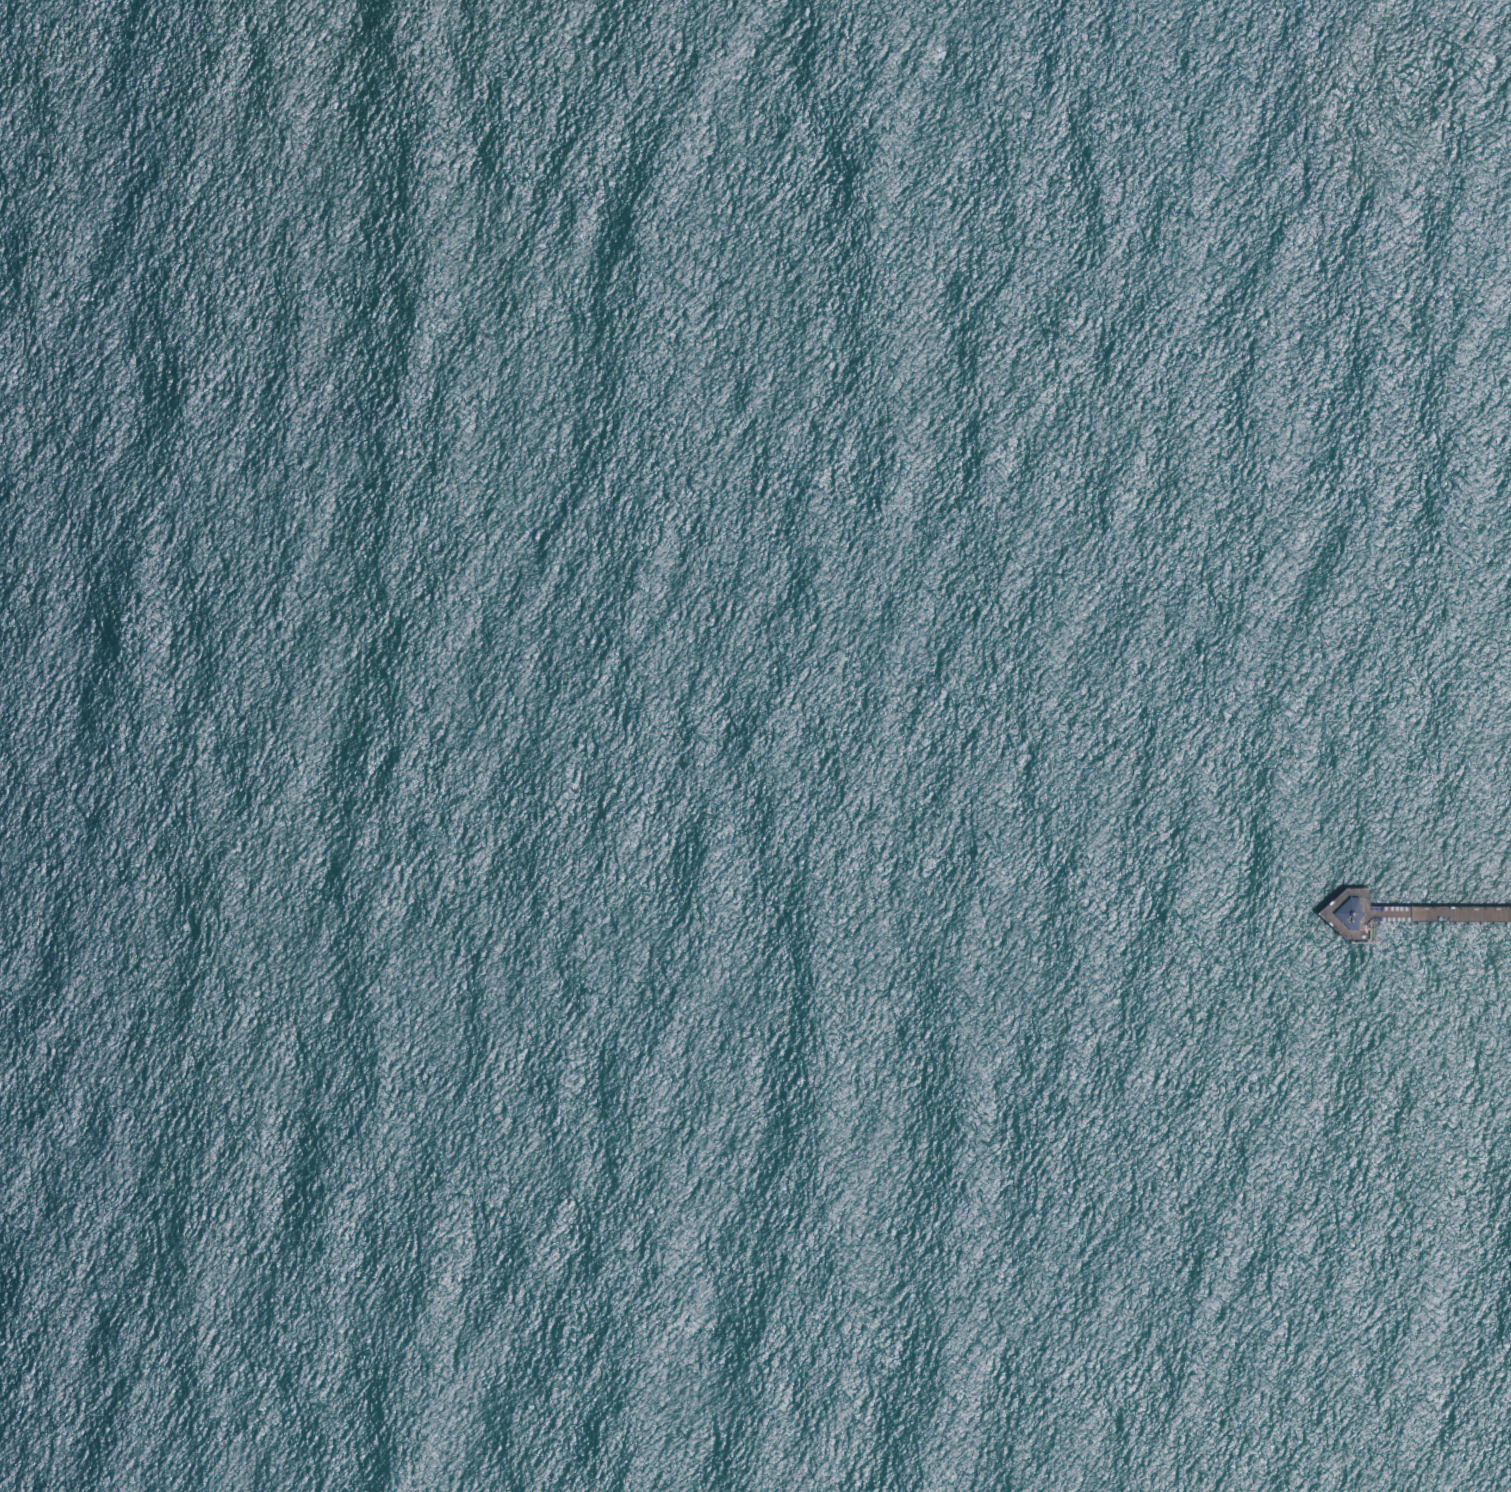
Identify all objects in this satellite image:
road: (1316, 913)
building: (1348, 914)
road: (1440, 915)

